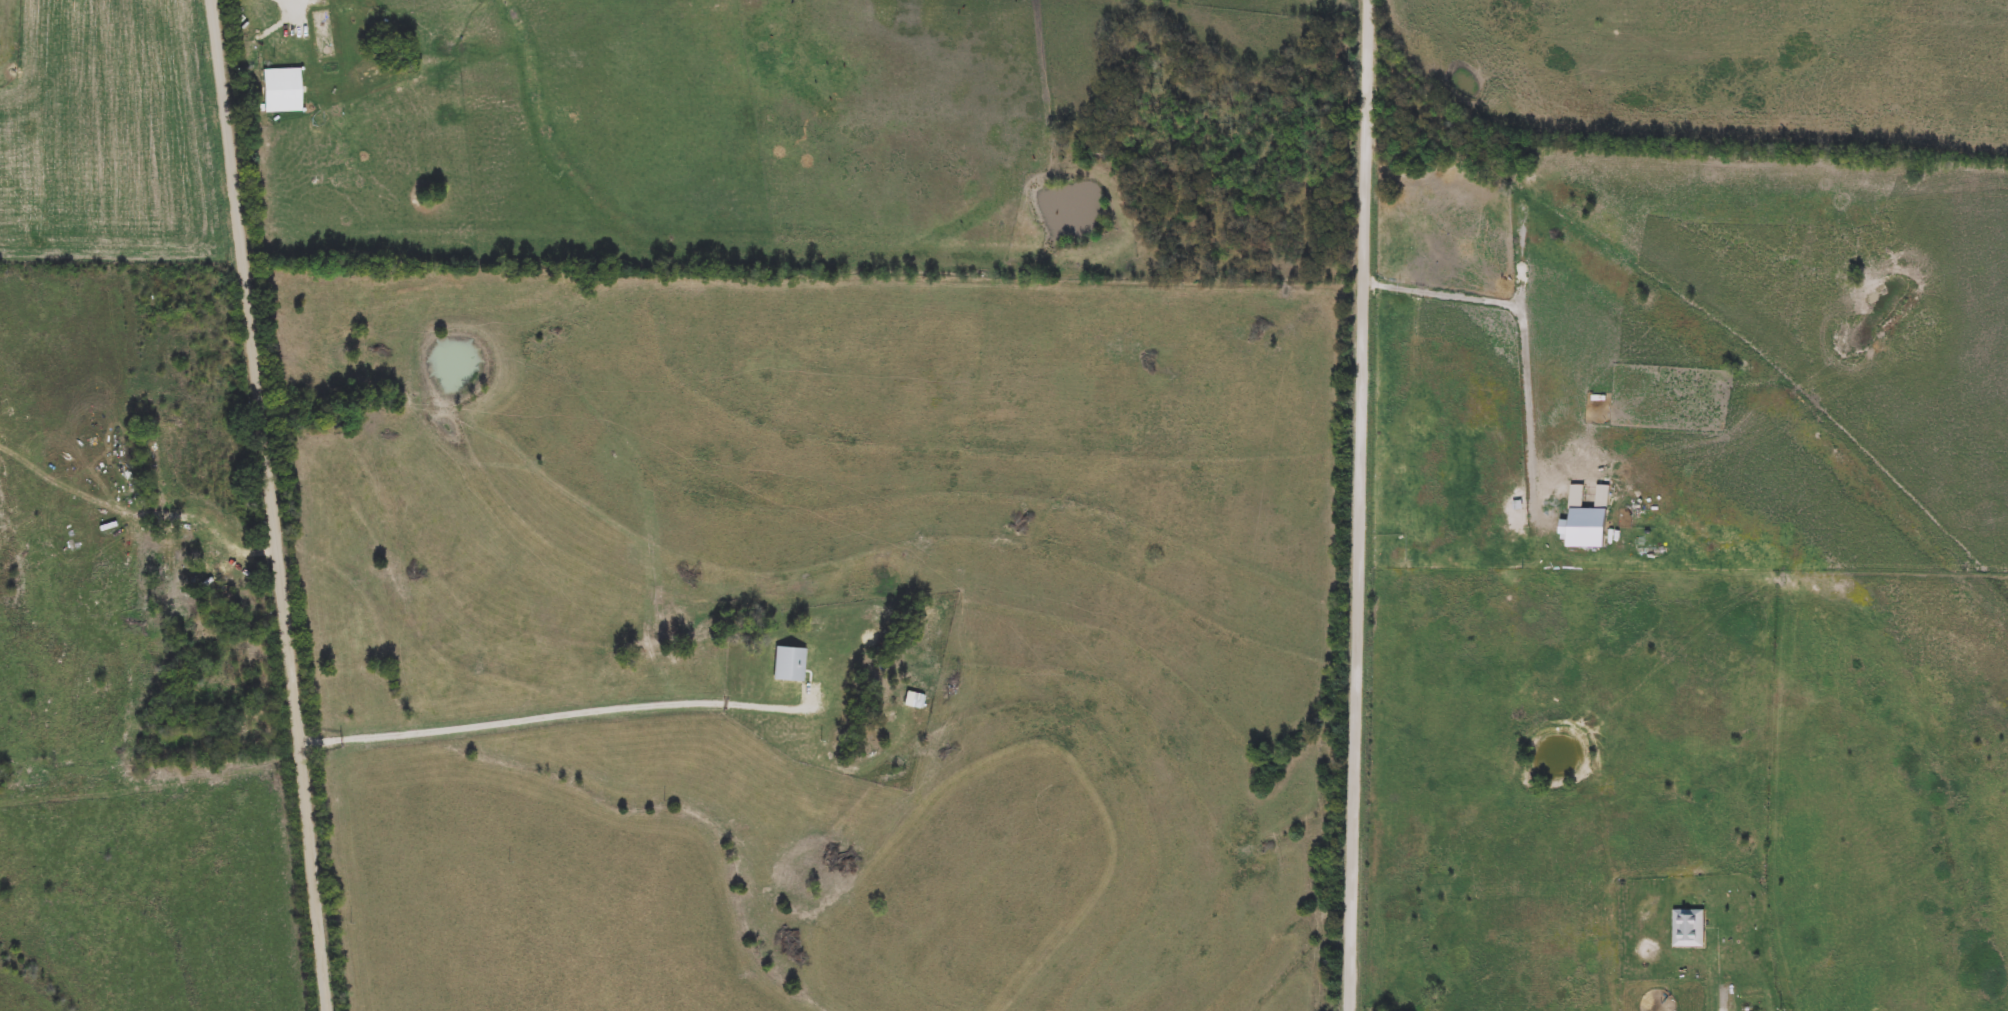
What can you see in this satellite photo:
road: (1527, 329)
road: (274, 505)
road: (1356, 505)
road: (248, 544)
building: (207, 568)
road: (558, 712)
building: (1690, 928)
road: (1724, 1001)

